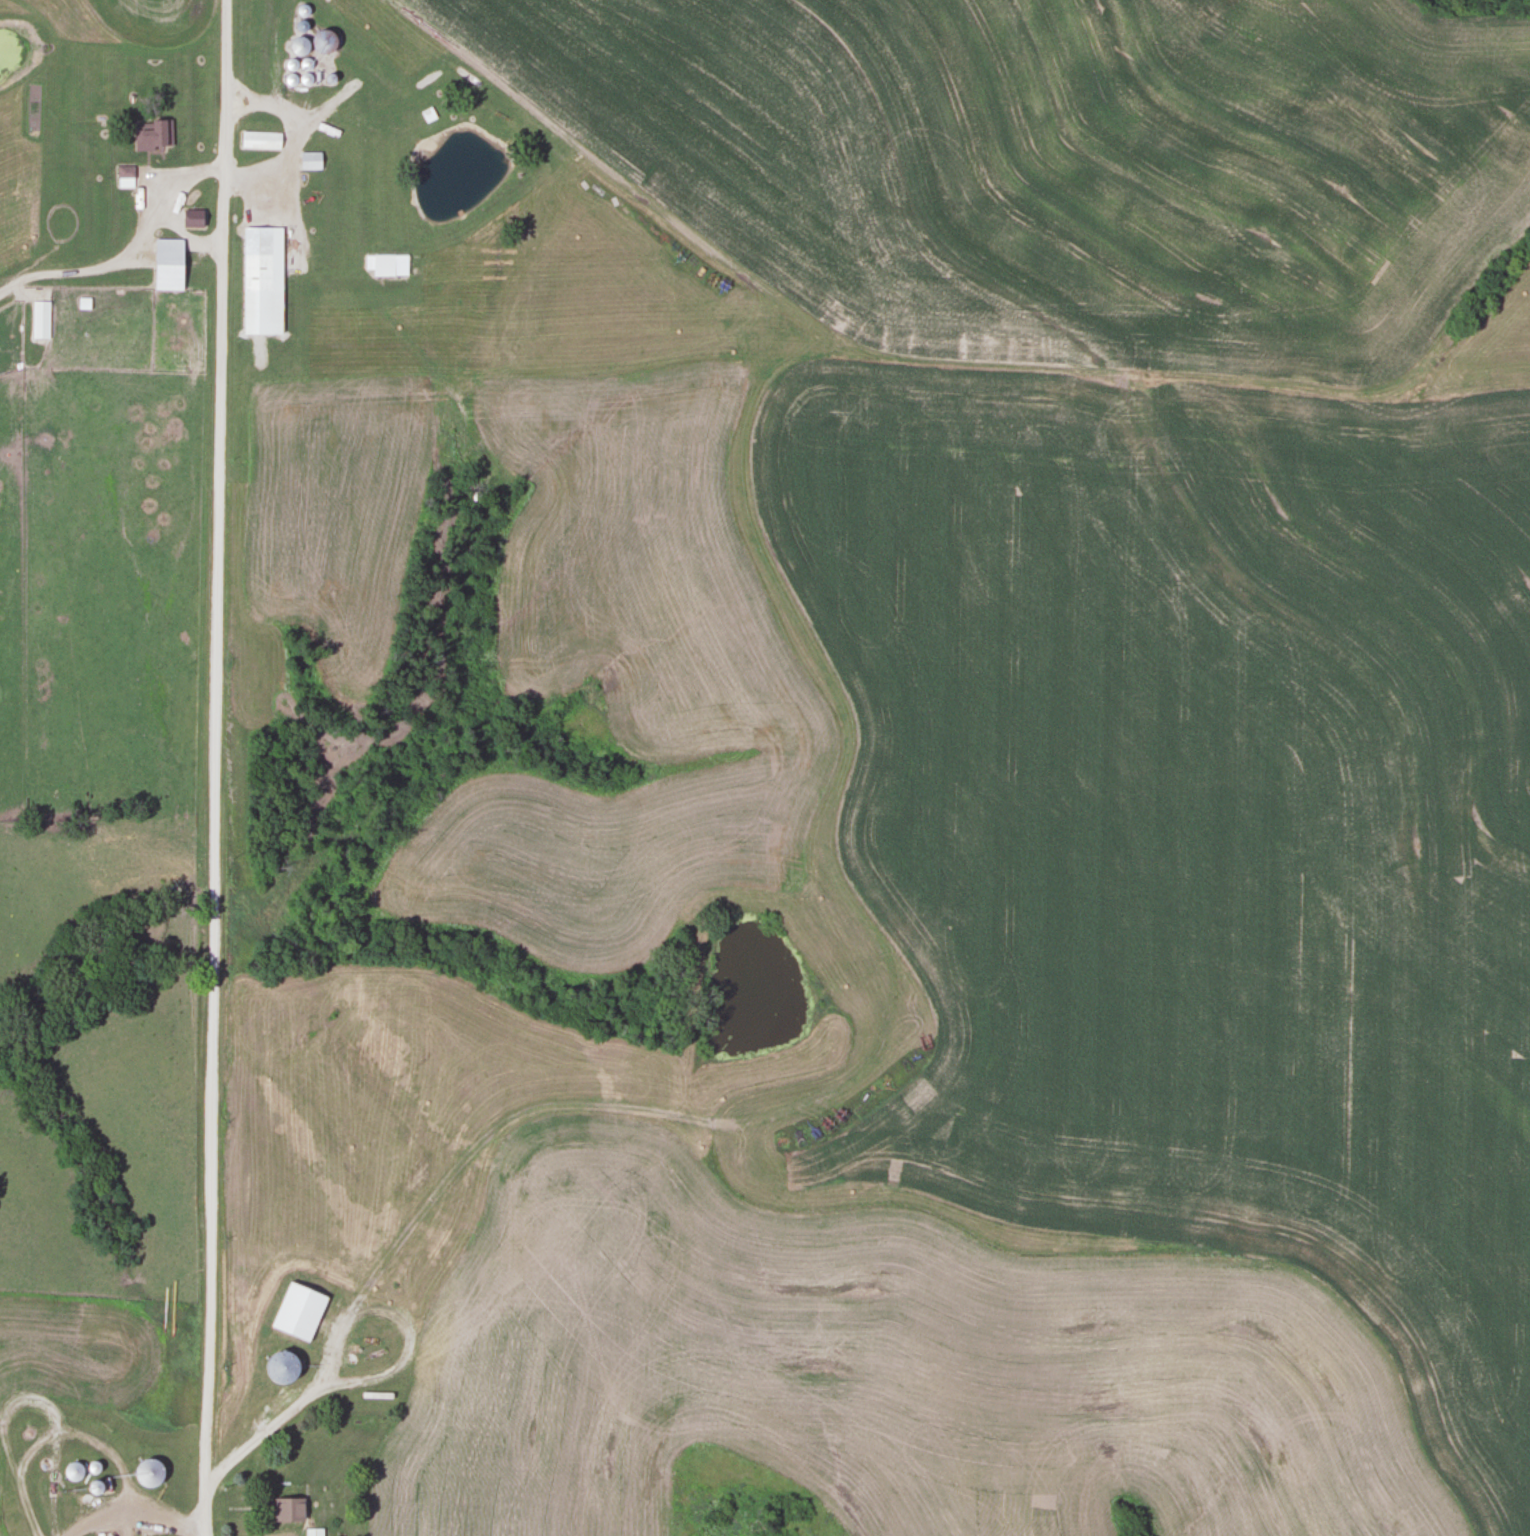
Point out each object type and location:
building: (321, 40)
building: (298, 45)
building: (154, 132)
building: (259, 140)
building: (309, 160)
building: (124, 176)
building: (191, 217)
road: (126, 252)
building: (167, 264)
building: (261, 280)
building: (39, 319)
road: (214, 767)
building: (297, 1311)
building: (280, 1367)
building: (72, 1470)
building: (147, 1471)
building: (93, 1485)
building: (285, 1508)
building: (313, 1532)

